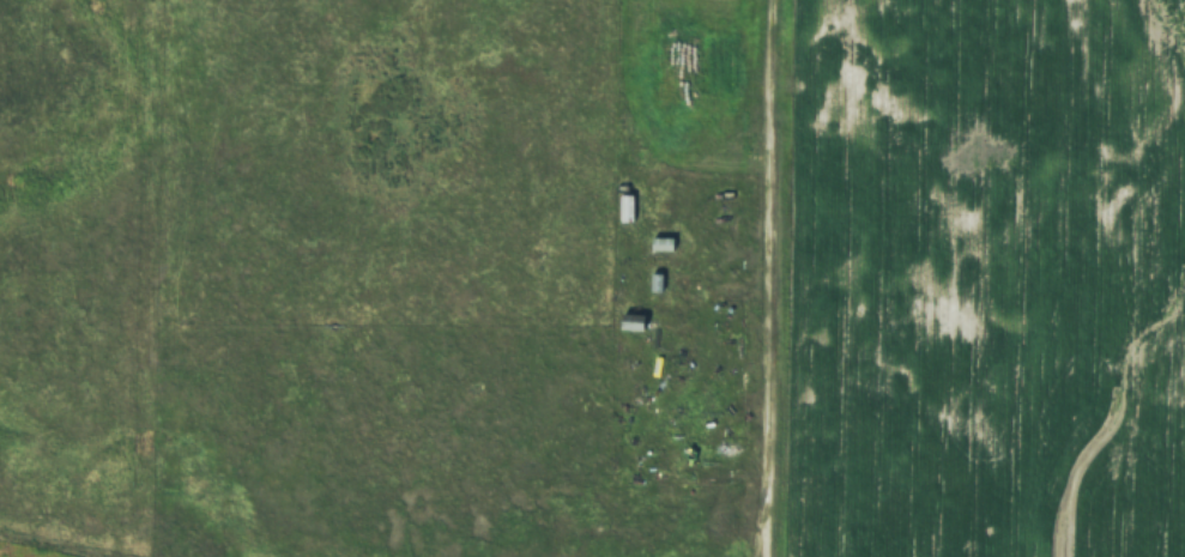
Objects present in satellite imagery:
building: (625, 210)
building: (660, 246)
road: (767, 278)
building: (654, 284)
building: (629, 323)

